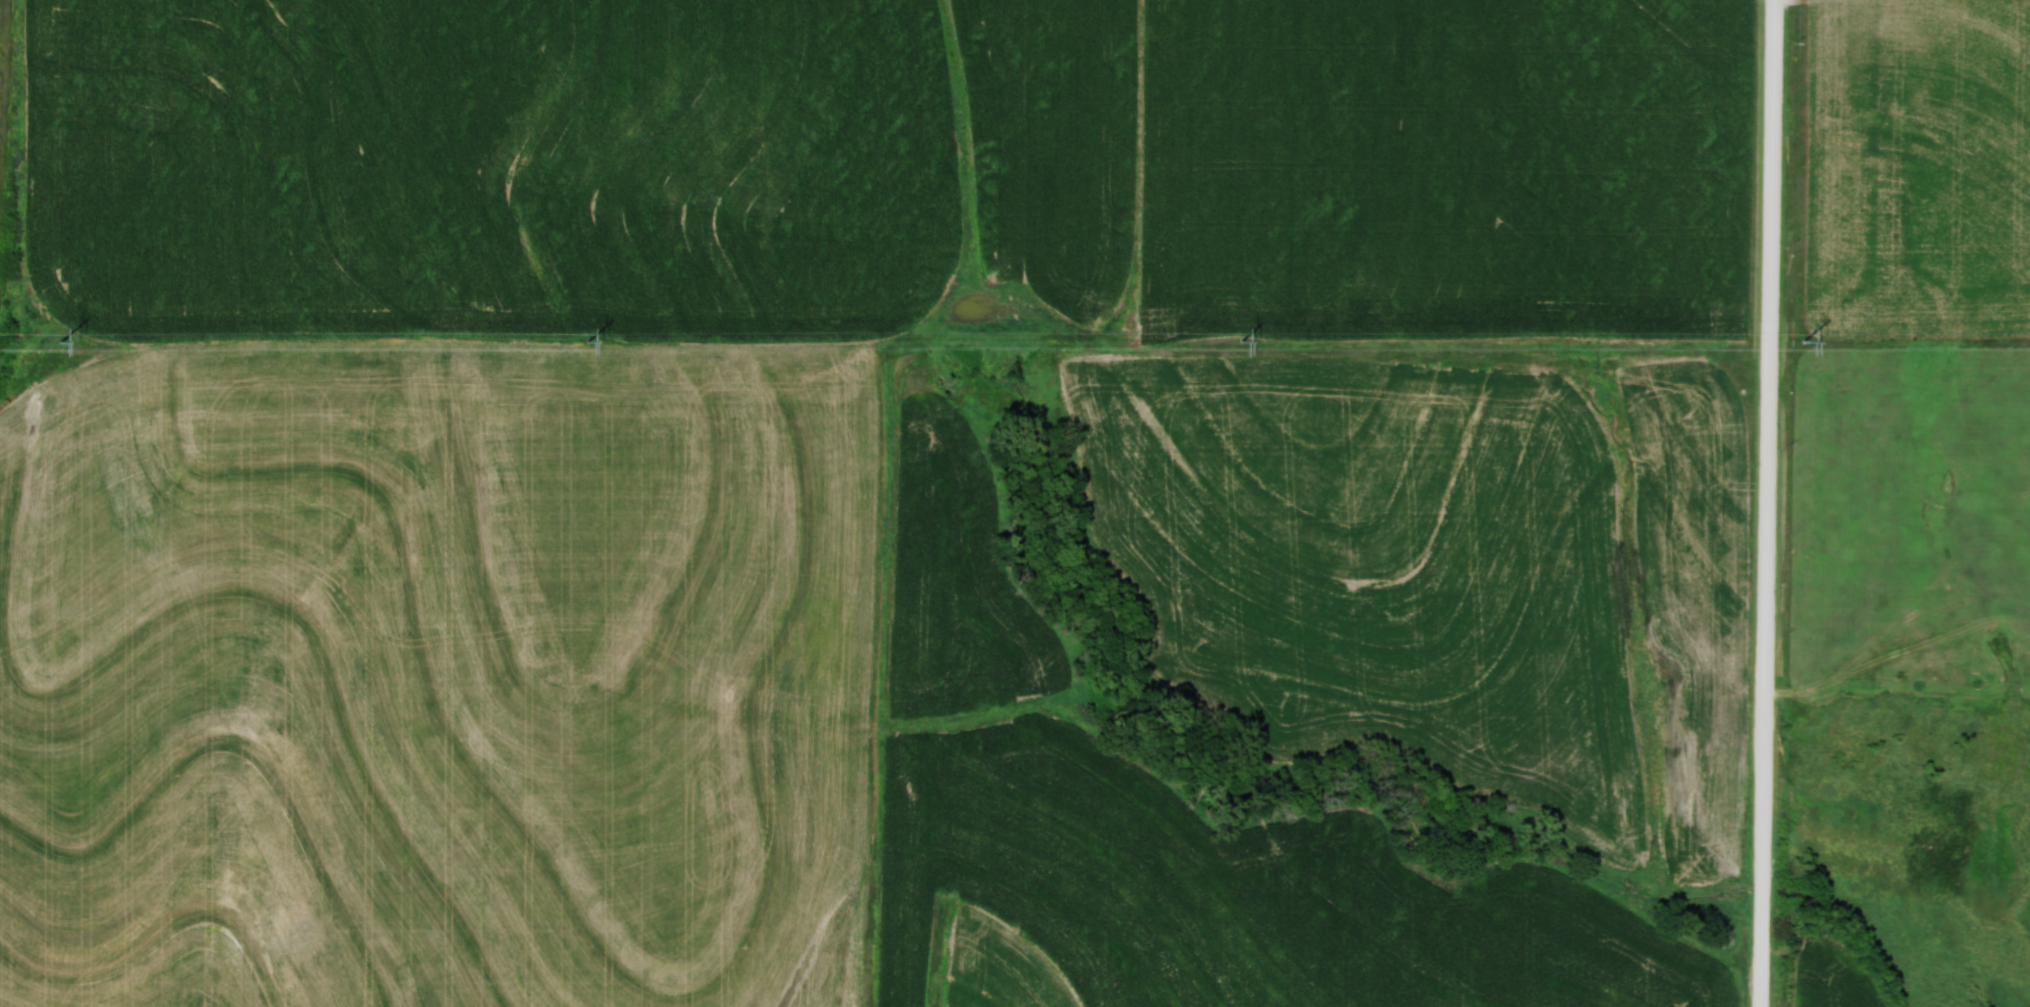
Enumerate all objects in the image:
power tower: (1243, 340)
power tower: (60, 341)
power tower: (587, 341)
power tower: (1804, 341)
road: (1770, 503)

